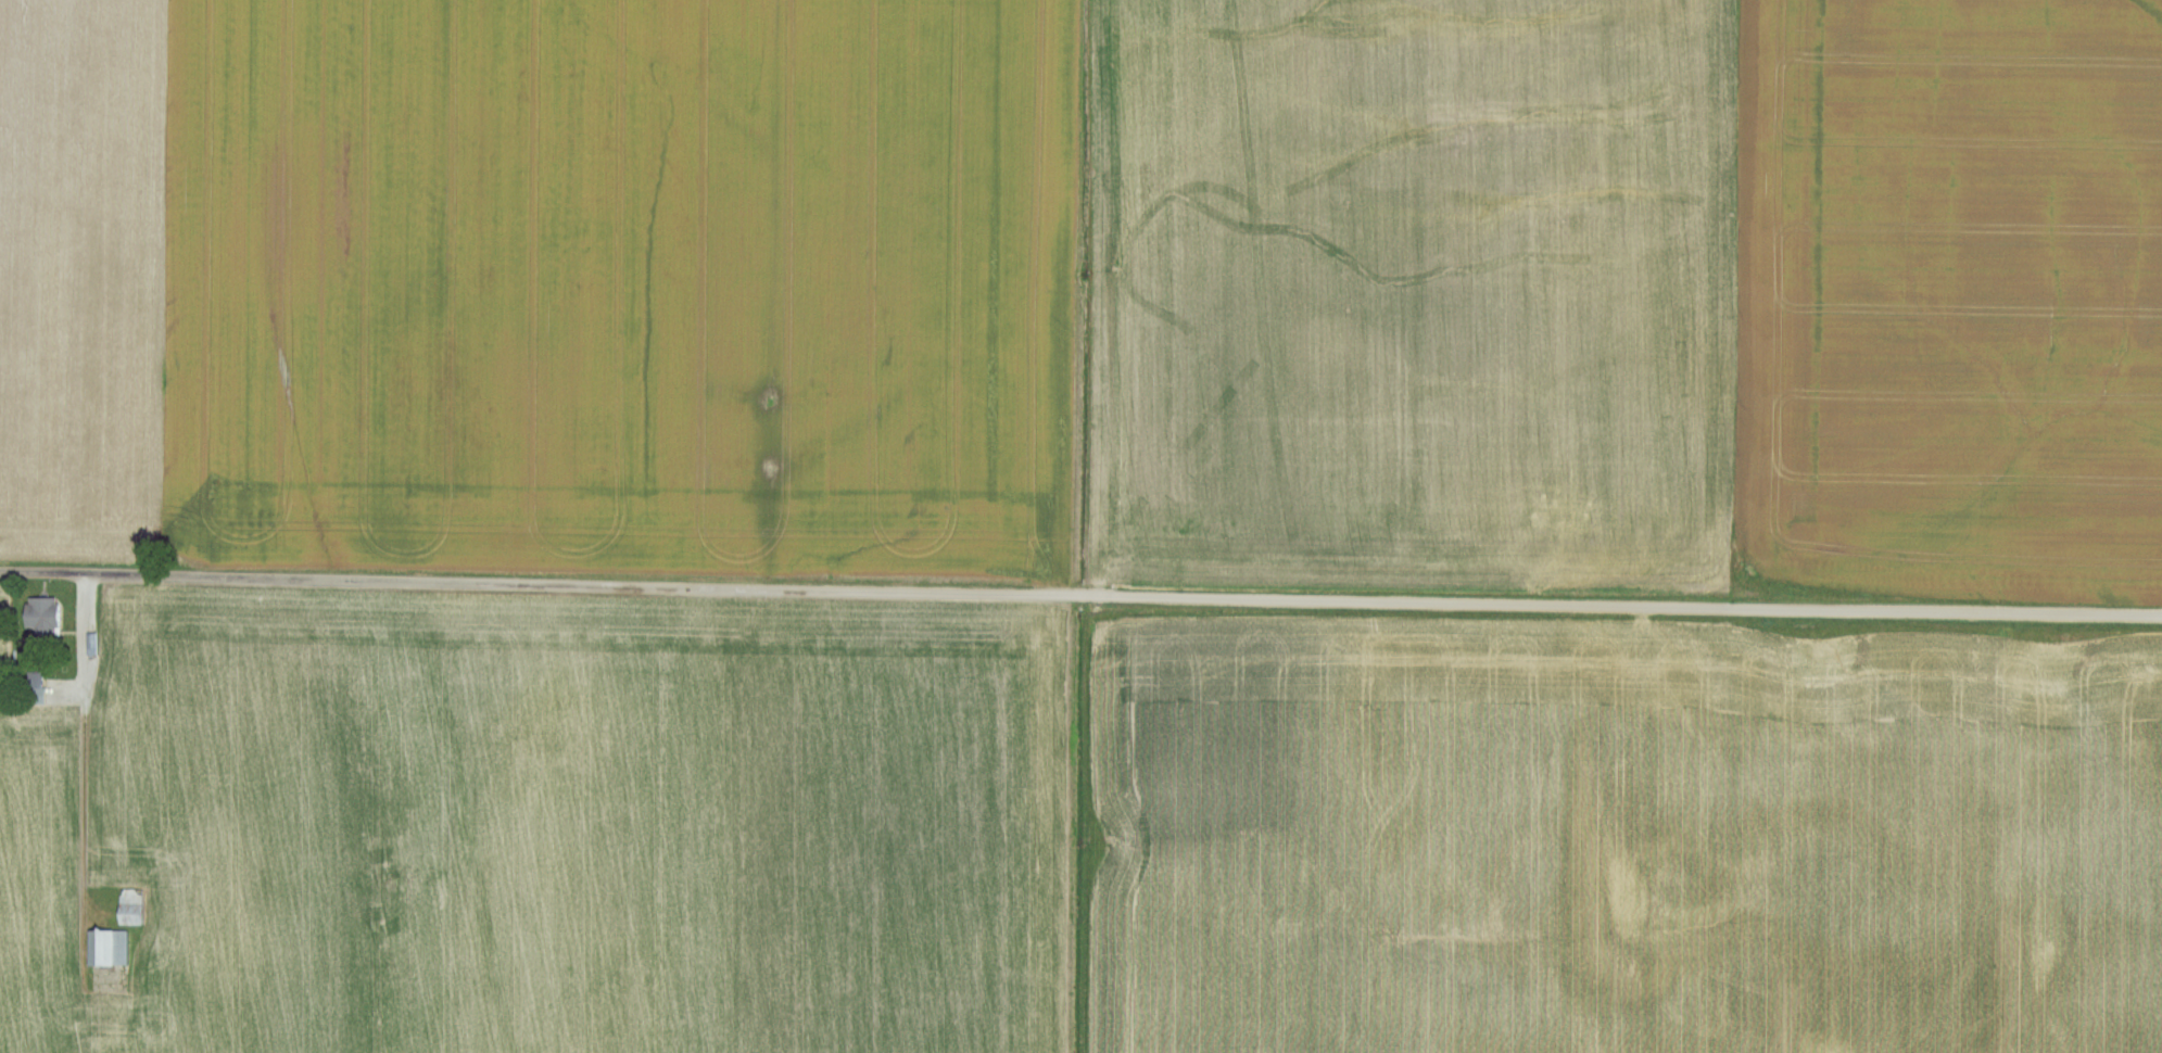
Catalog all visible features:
road: (1080, 595)
building: (48, 618)
building: (136, 906)
building: (112, 948)

